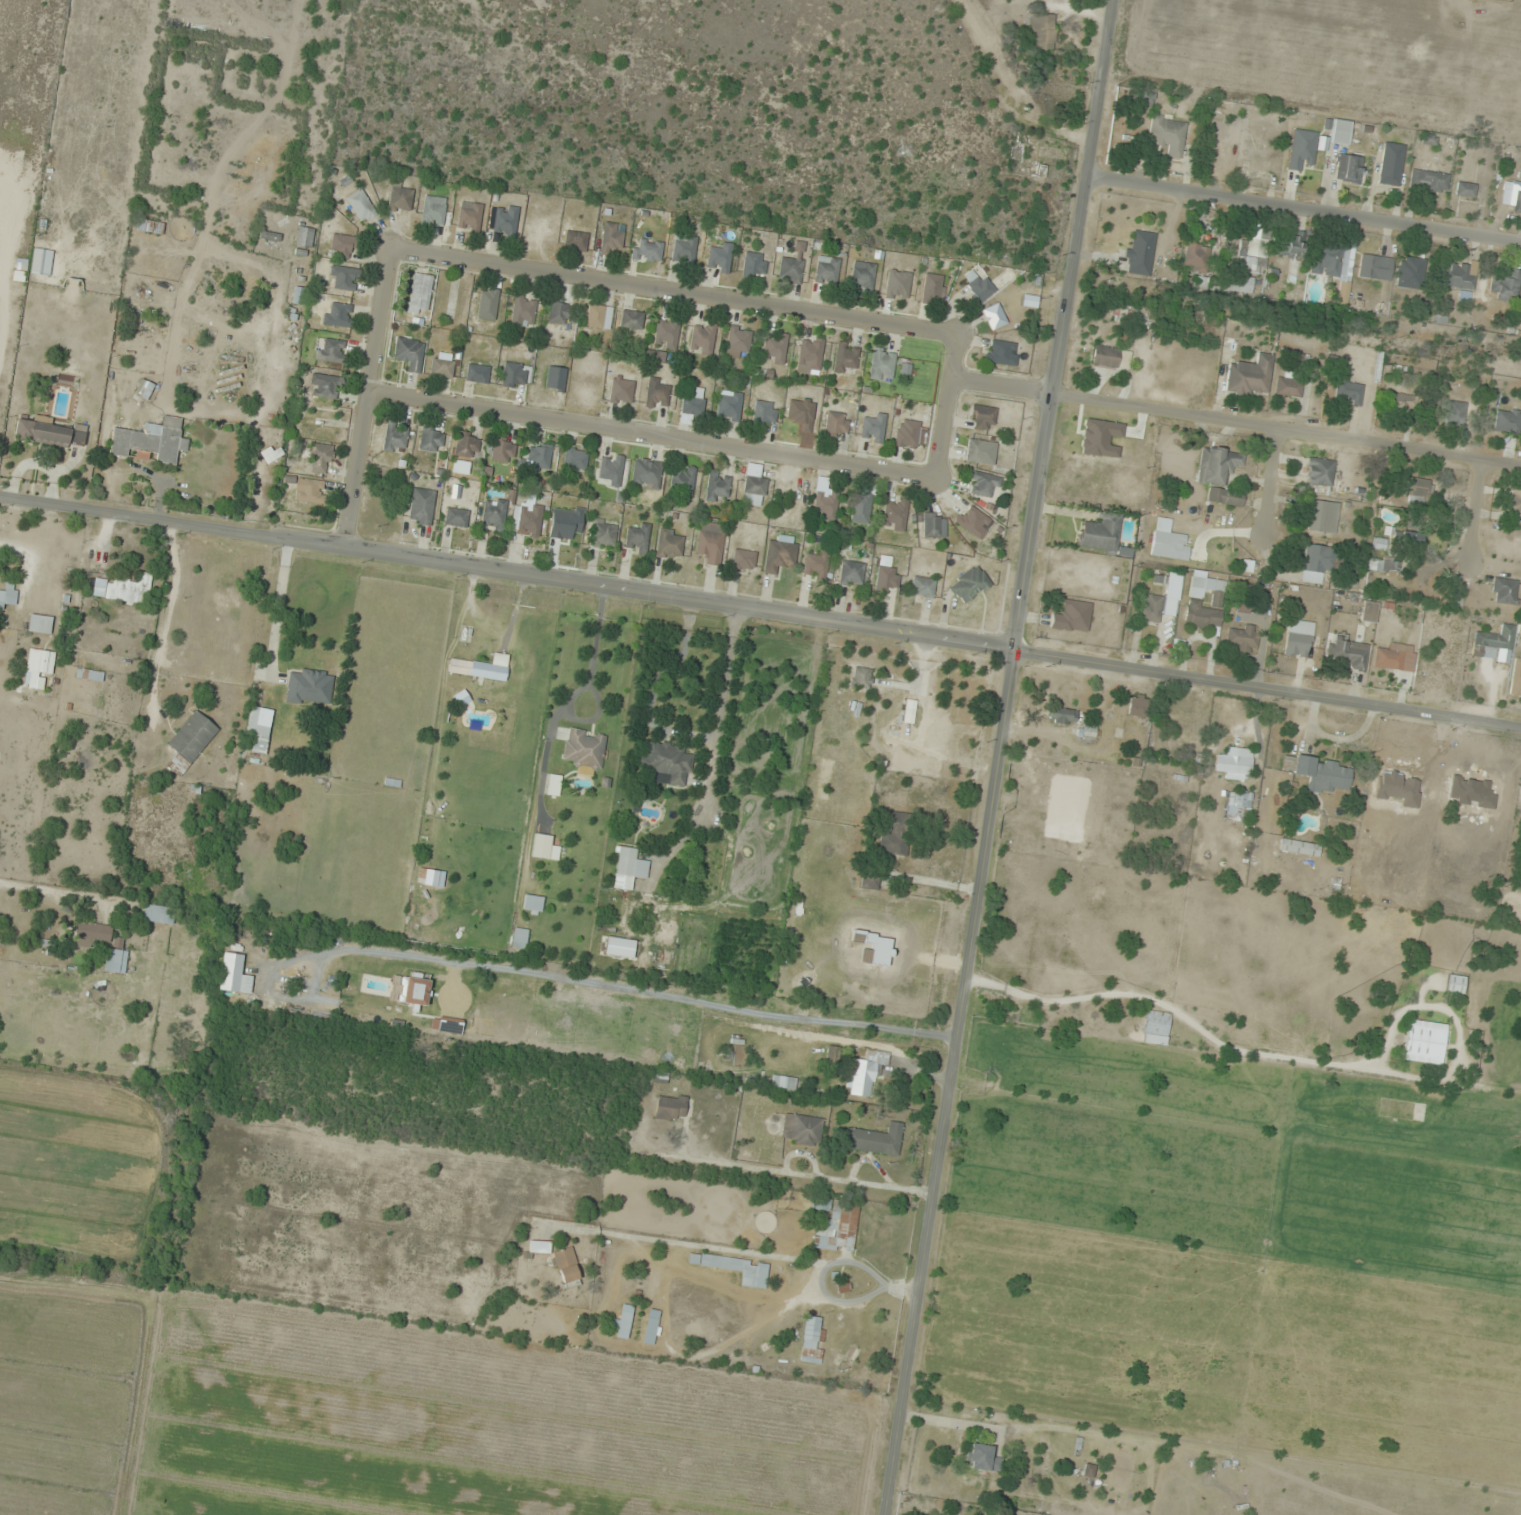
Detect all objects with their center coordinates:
building: (1041, 31)
building: (1340, 132)
building: (1168, 134)
building: (1301, 149)
building: (1391, 164)
building: (1041, 166)
building: (1349, 169)
building: (1429, 181)
building: (1465, 190)
building: (1512, 196)
building: (399, 197)
building: (361, 206)
road: (1303, 207)
building: (433, 212)
building: (469, 217)
building: (502, 220)
building: (305, 237)
building: (611, 237)
building: (575, 241)
building: (342, 246)
building: (1286, 247)
building: (683, 249)
building: (647, 250)
building: (1253, 252)
building: (1141, 253)
building: (1197, 256)
building: (720, 258)
building: (1327, 259)
building: (41, 262)
building: (754, 265)
building: (1375, 268)
building: (790, 270)
building: (826, 271)
building: (1409, 273)
building: (862, 276)
building: (1459, 276)
building: (343, 278)
building: (1239, 284)
building: (897, 285)
building: (979, 286)
building: (1506, 286)
road: (671, 288)
building: (932, 289)
building: (420, 294)
building: (298, 295)
building: (487, 304)
building: (457, 305)
building: (523, 311)
building: (559, 312)
building: (338, 315)
building: (598, 316)
building: (994, 316)
building: (631, 320)
building: (667, 333)
building: (702, 339)
building: (738, 342)
building: (774, 348)
building: (331, 351)
building: (409, 353)
building: (1000, 353)
building: (809, 355)
building: (1110, 357)
building: (846, 358)
building: (882, 365)
building: (442, 368)
building: (477, 374)
building: (513, 376)
building: (1249, 376)
building: (1289, 385)
building: (324, 386)
road: (998, 389)
building: (1347, 390)
building: (621, 391)
building: (656, 394)
road: (366, 398)
building: (1400, 402)
road: (943, 404)
building: (692, 406)
building: (729, 406)
building: (764, 413)
building: (1456, 413)
building: (982, 418)
building: (1507, 421)
building: (836, 425)
building: (873, 429)
road: (1285, 429)
building: (49, 432)
road: (650, 434)
building: (906, 434)
building: (394, 437)
building: (431, 440)
building: (150, 442)
building: (466, 445)
building: (502, 450)
building: (978, 451)
building: (271, 454)
building: (538, 456)
building: (319, 458)
building: (574, 459)
building: (1217, 465)
building: (460, 467)
building: (610, 471)
building: (1318, 471)
building: (646, 473)
building: (682, 481)
road: (1272, 481)
building: (982, 485)
building: (717, 486)
building: (1418, 489)
building: (310, 490)
building: (753, 491)
building: (1225, 497)
building: (1515, 502)
building: (825, 504)
building: (421, 506)
building: (860, 508)
road: (1475, 509)
building: (493, 514)
building: (894, 514)
building: (1320, 515)
building: (456, 517)
building: (529, 520)
building: (973, 521)
building: (930, 524)
building: (1415, 530)
building: (1101, 534)
building: (604, 535)
building: (637, 539)
building: (710, 542)
building: (669, 544)
building: (1163, 544)
building: (779, 555)
building: (743, 559)
building: (1319, 559)
building: (816, 564)
building: (1383, 564)
building: (851, 573)
building: (886, 575)
building: (969, 584)
building: (922, 587)
building: (123, 589)
building: (1504, 591)
building: (8, 595)
building: (1160, 601)
building: (1193, 604)
road: (760, 611)
building: (1368, 611)
building: (1071, 617)
building: (39, 624)
building: (1298, 638)
building: (1241, 639)
building: (1493, 643)
building: (1345, 654)
building: (1393, 659)
building: (38, 665)
building: (481, 667)
building: (89, 674)
building: (860, 677)
building: (1515, 678)
building: (309, 687)
building: (1139, 704)
building: (909, 711)
building: (1062, 716)
building: (1086, 731)
building: (257, 733)
building: (190, 741)
building: (583, 748)
road: (1000, 757)
building: (664, 763)
building: (1234, 764)
building: (1319, 772)
building: (552, 785)
building: (1238, 806)
building: (895, 836)
building: (543, 847)
building: (1299, 848)
building: (628, 868)
building: (869, 882)
road: (61, 894)
building: (1514, 902)
building: (532, 904)
building: (156, 914)
building: (652, 928)
building: (91, 934)
building: (519, 938)
building: (619, 947)
building: (660, 958)
building: (115, 961)
building: (1454, 984)
building: (799, 1013)
building: (848, 1017)
building: (1156, 1024)
building: (1424, 1042)
building: (831, 1057)
building: (865, 1073)
building: (669, 1107)
building: (801, 1129)
building: (874, 1139)
building: (820, 1203)
building: (837, 1226)
building: (539, 1246)
building: (566, 1265)
building: (735, 1267)
building: (624, 1321)
building: (652, 1326)
building: (812, 1339)
building: (982, 1458)

